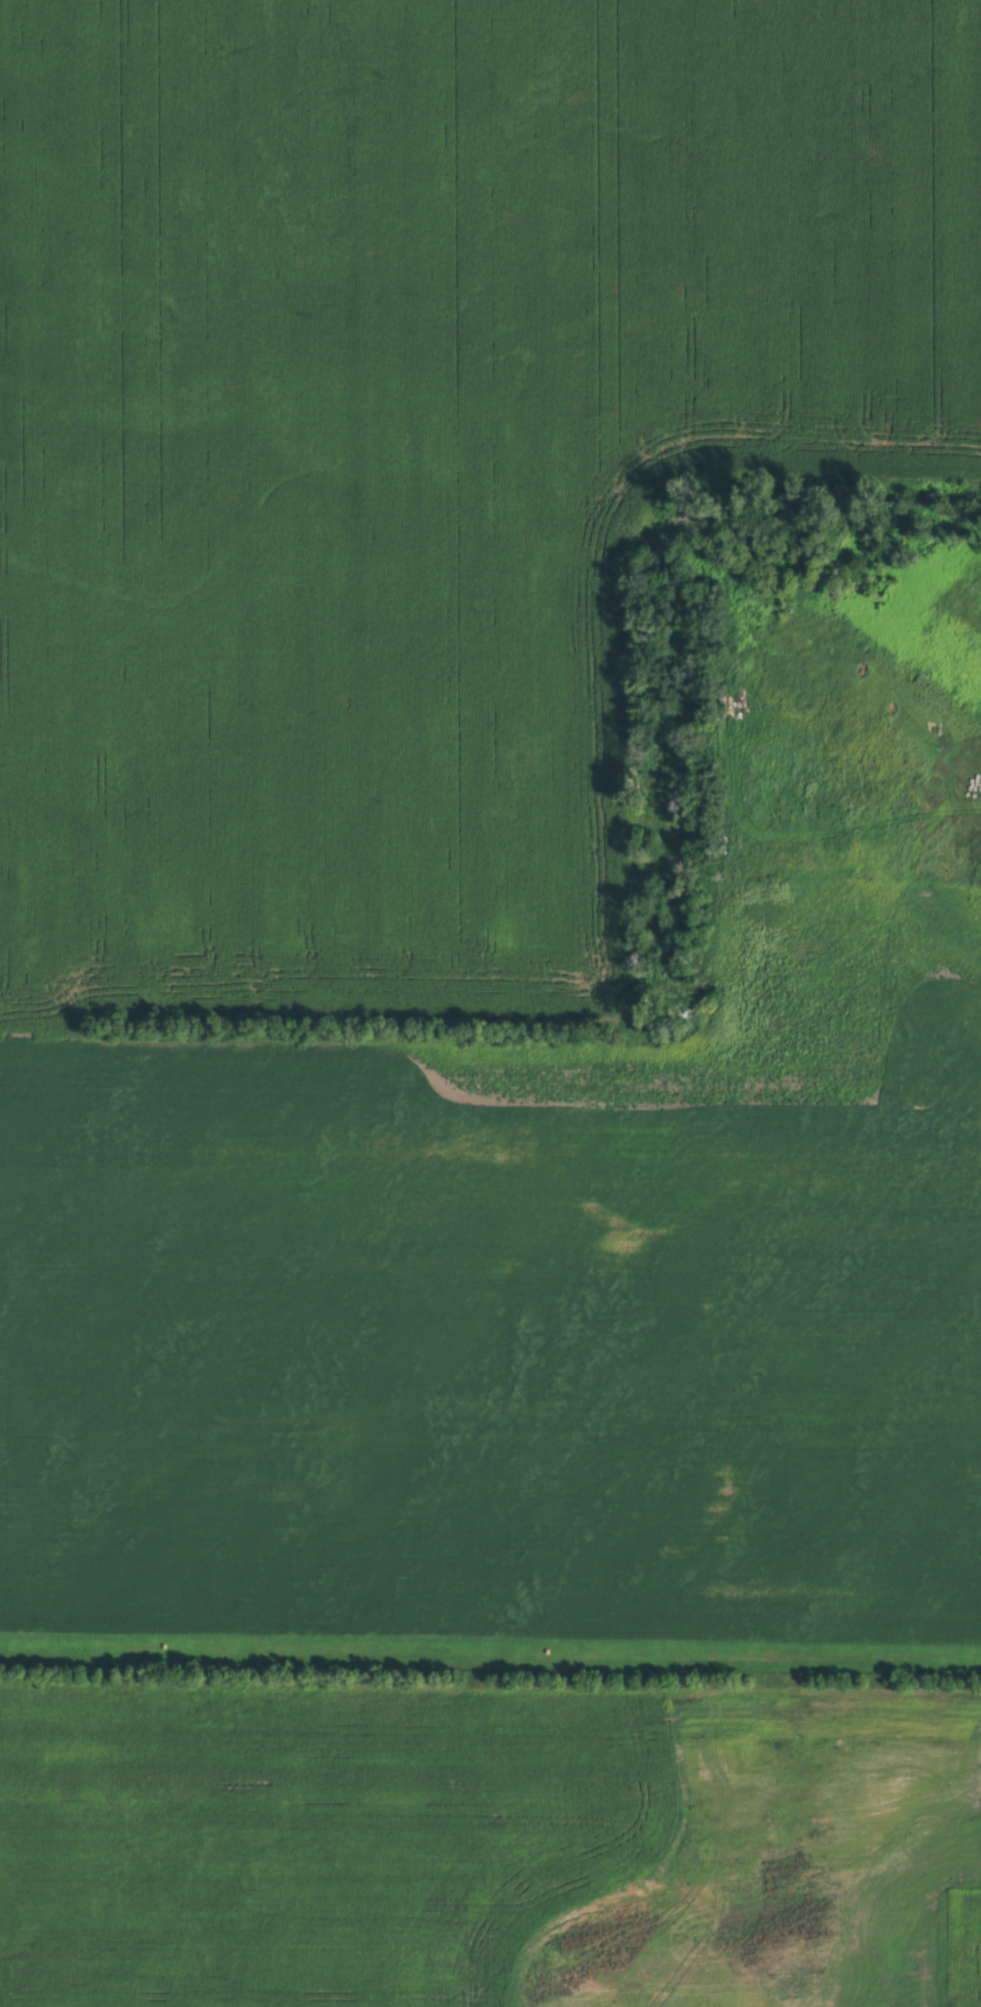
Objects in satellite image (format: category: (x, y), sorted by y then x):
road: (948, 708)

